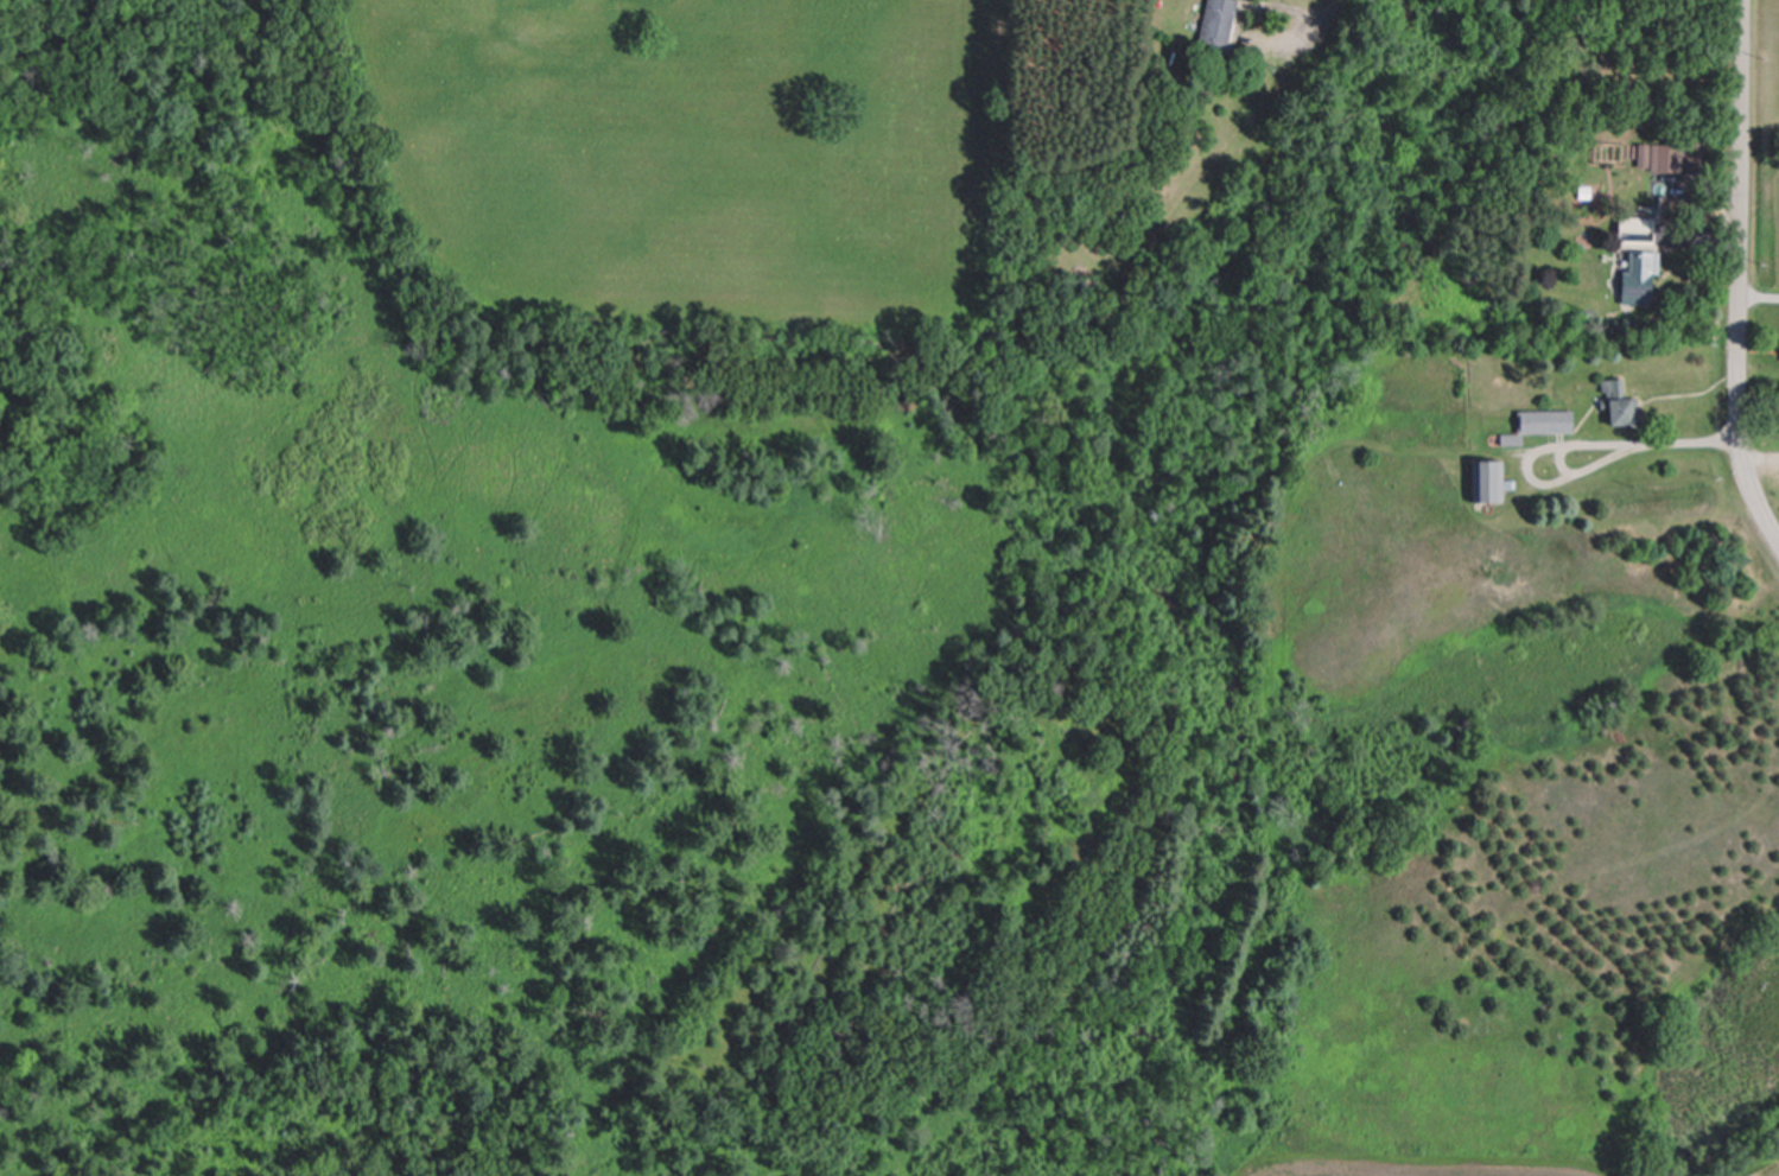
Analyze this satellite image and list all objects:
road: (1320, 18)
building: (1214, 23)
building: (1676, 157)
building: (1634, 231)
road: (1739, 278)
building: (1615, 403)
building: (1544, 422)
road: (1567, 441)
building: (1485, 482)

